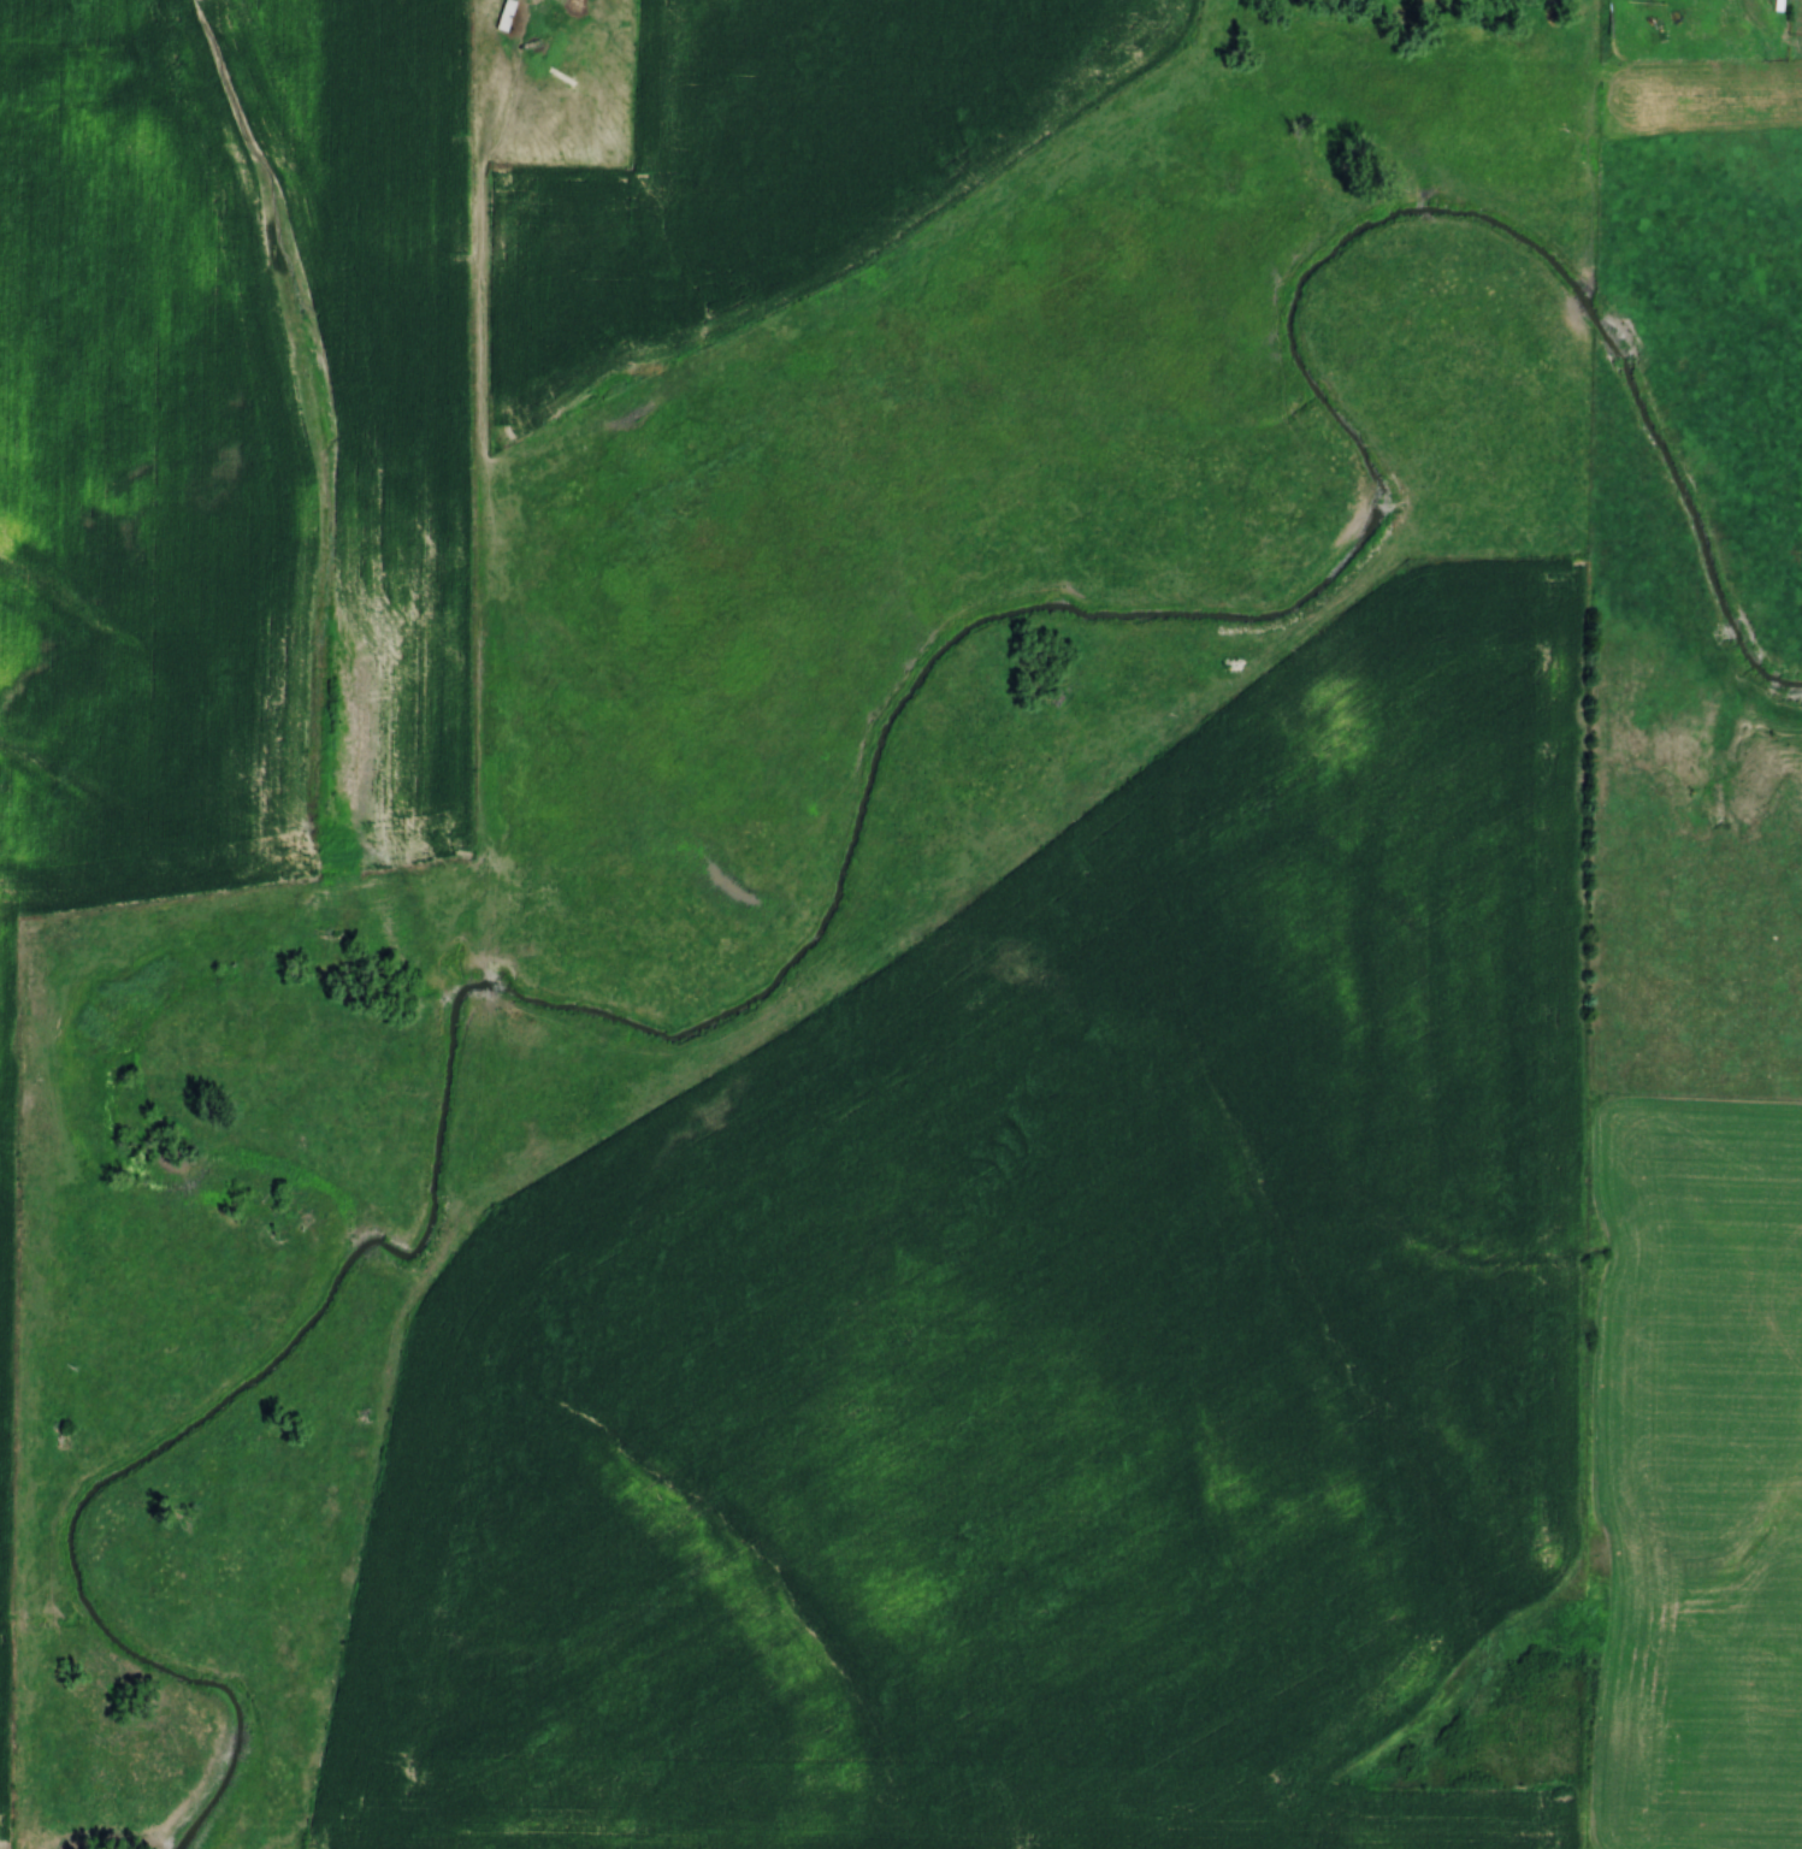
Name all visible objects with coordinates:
building: (491, 10)

